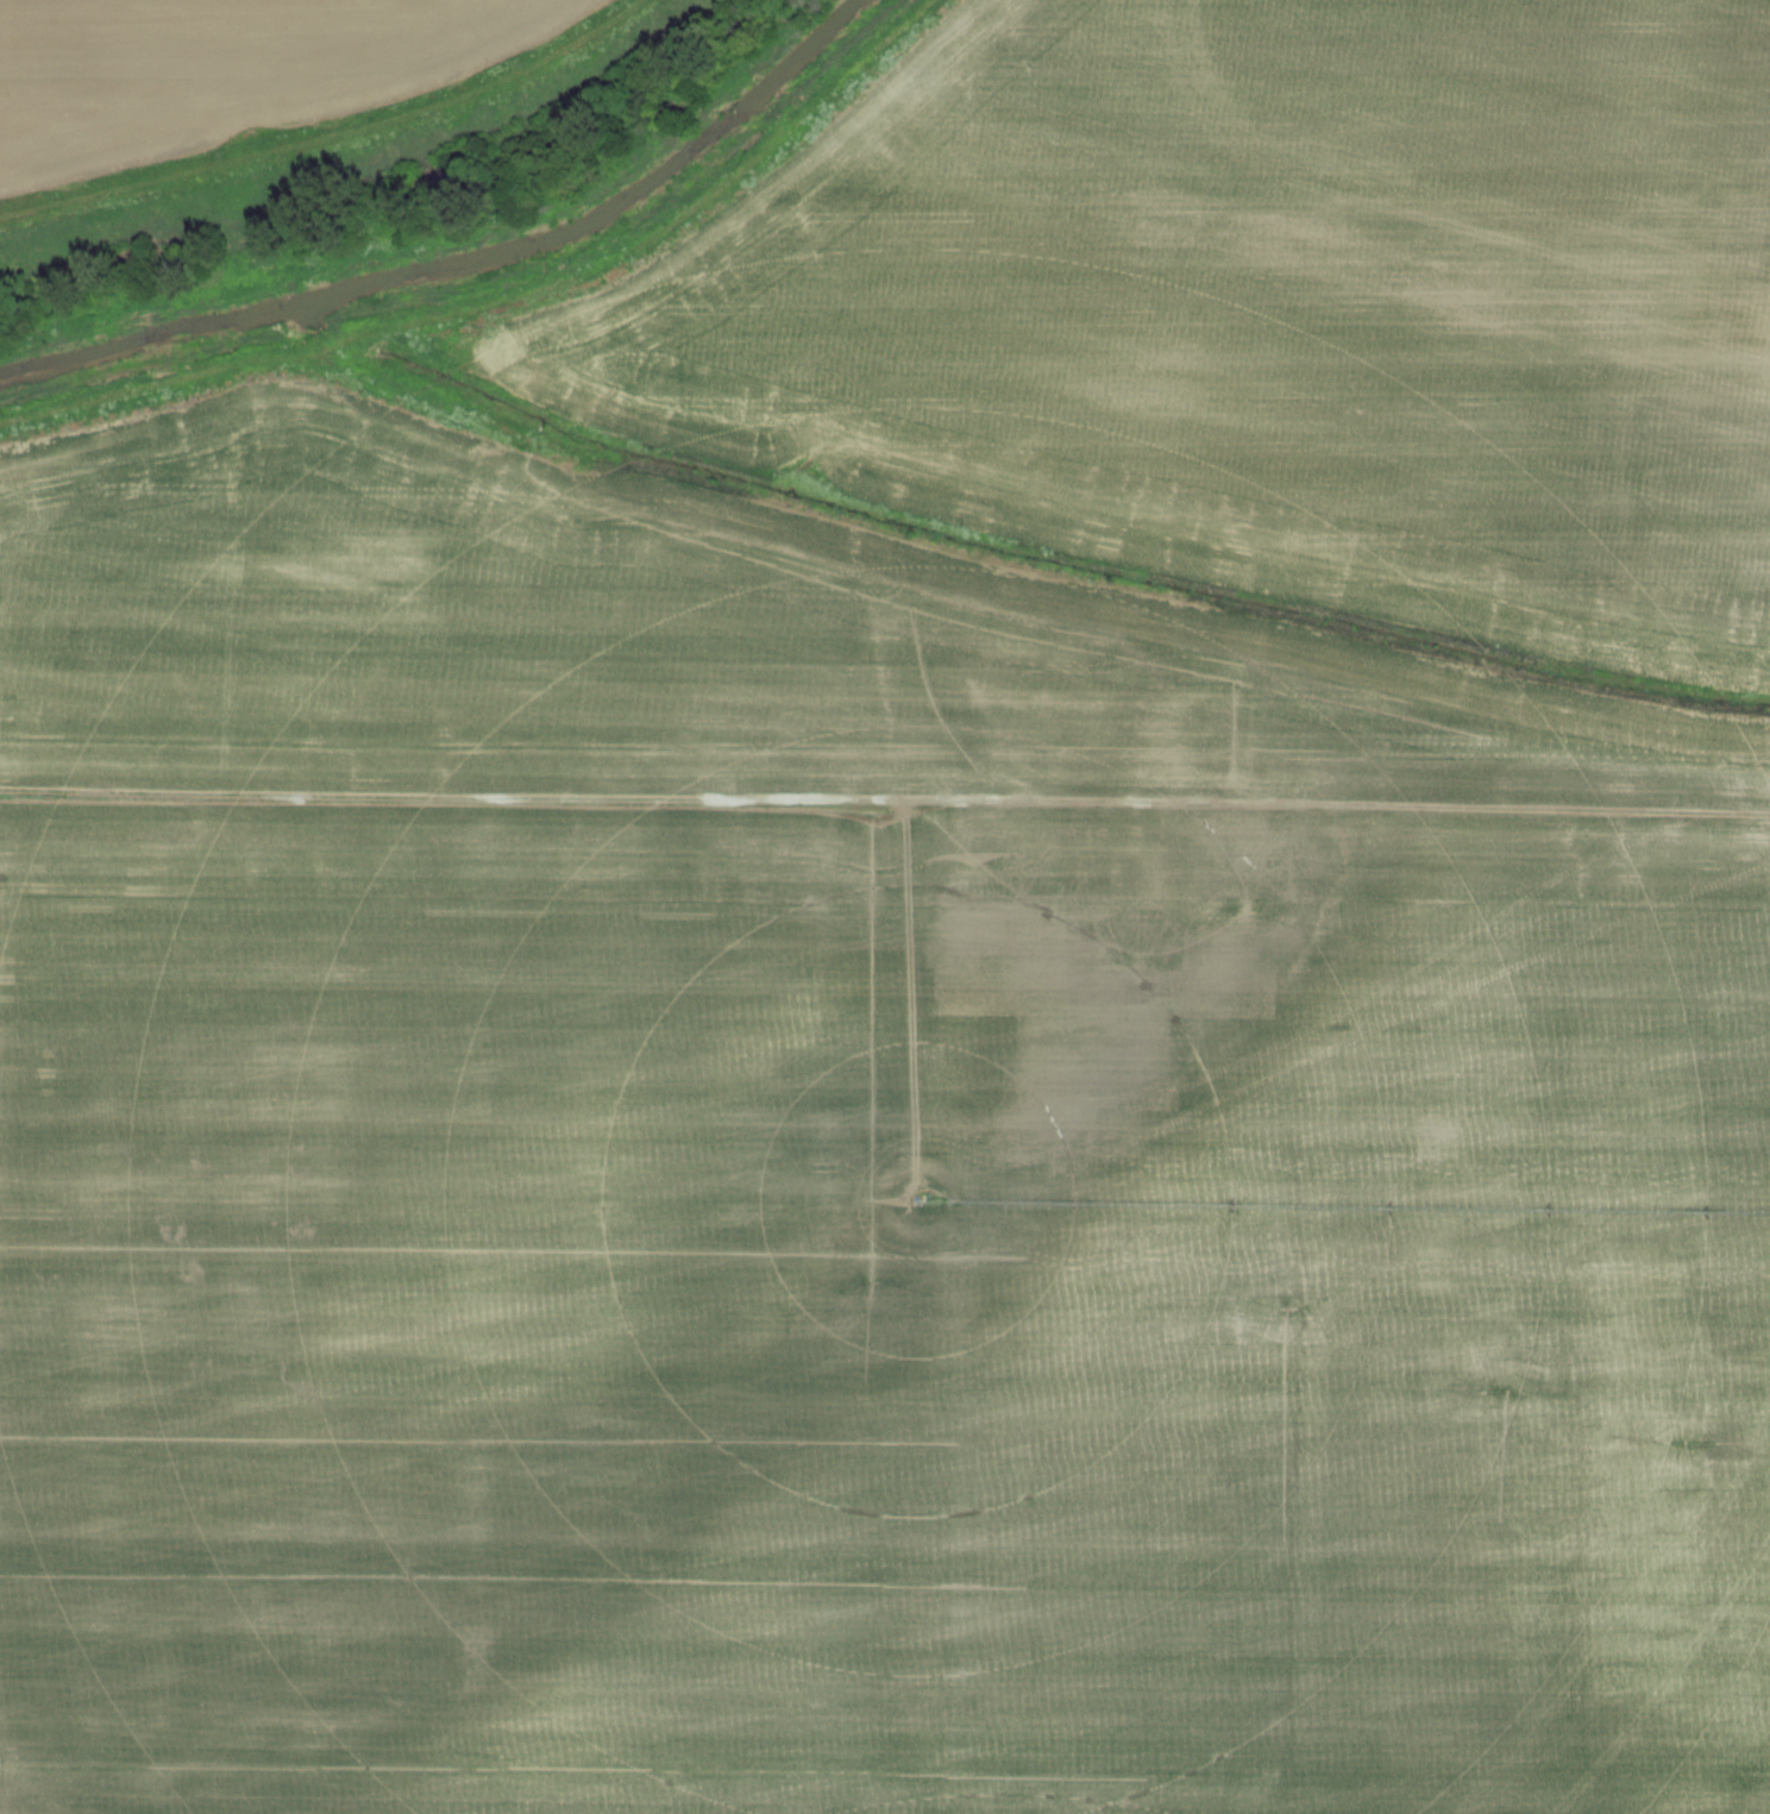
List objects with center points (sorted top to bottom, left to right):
river: (466, 261)
road: (885, 810)

